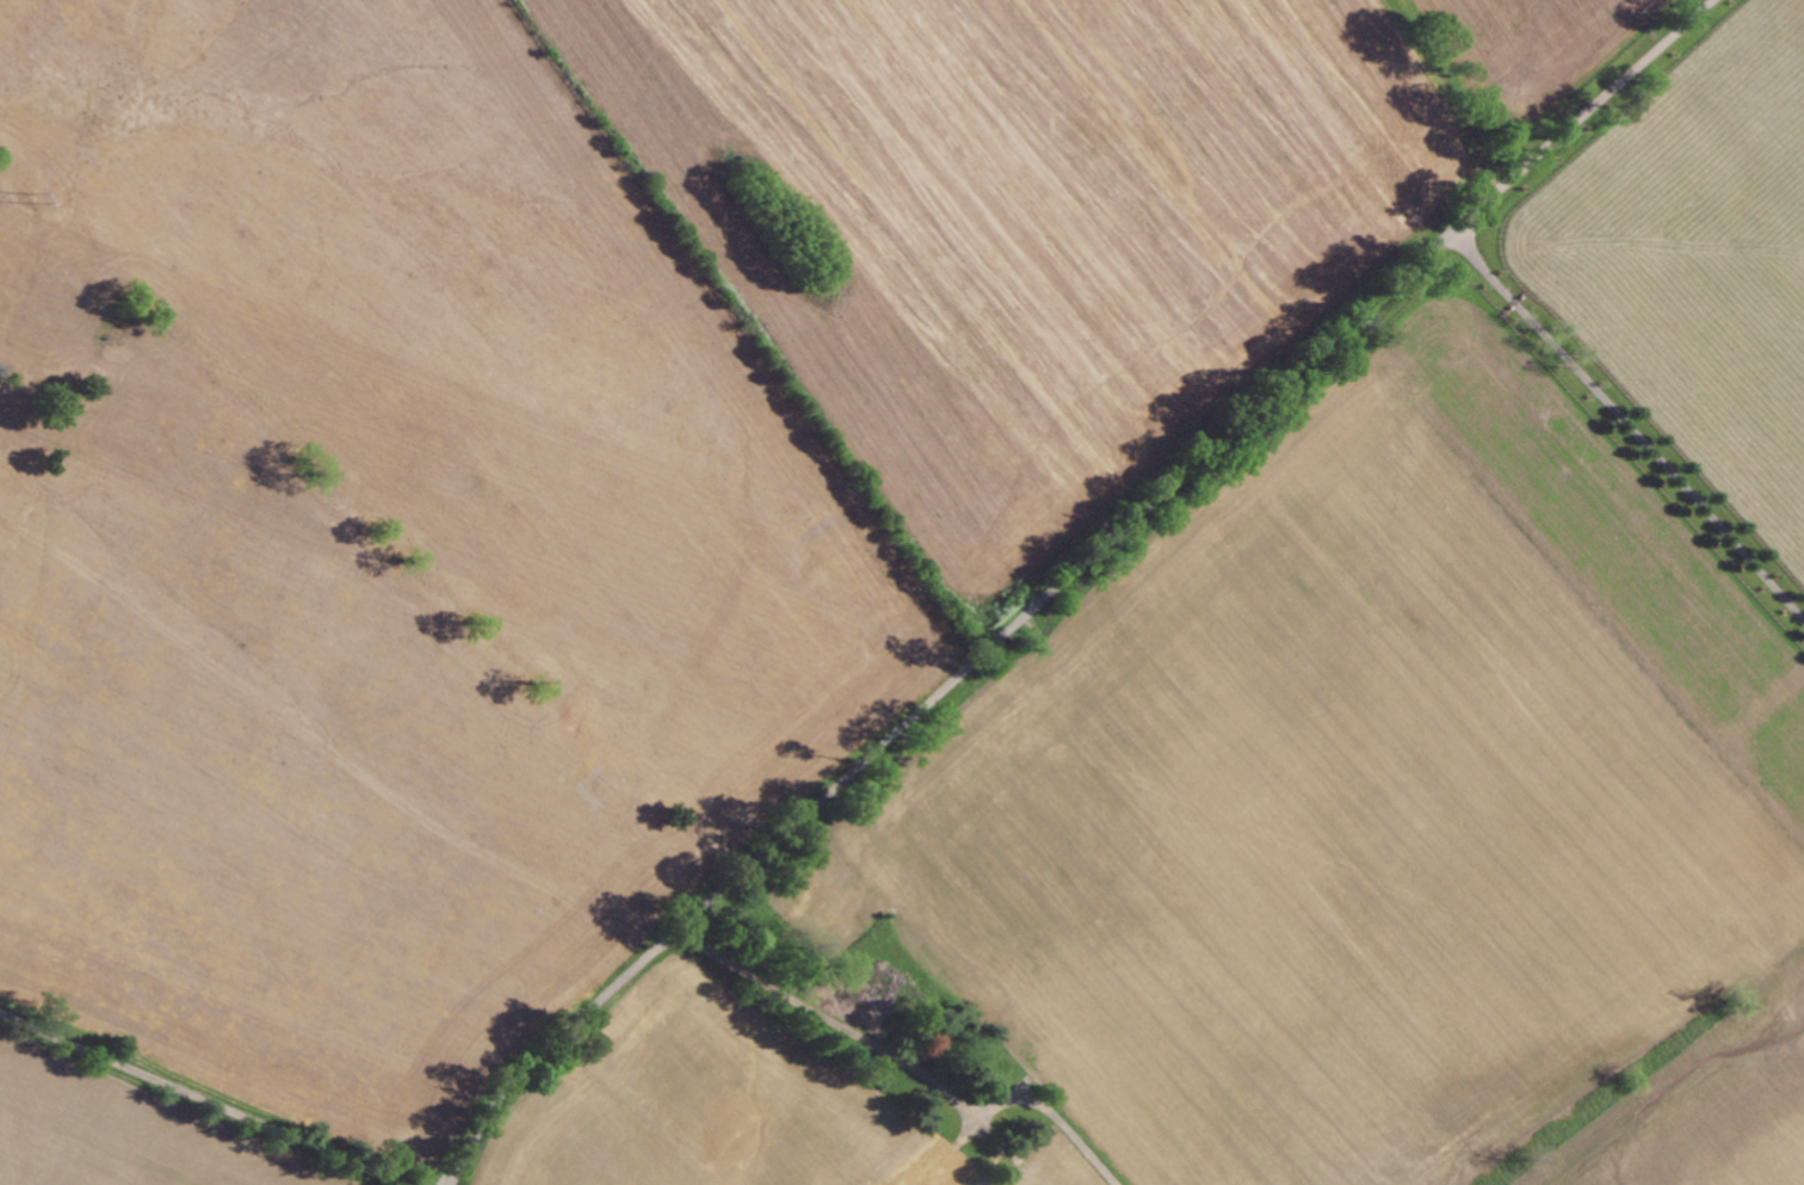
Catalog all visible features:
power tower: (32, 203)
road: (1347, 326)
road: (1630, 424)
road: (700, 907)
road: (907, 1068)
road: (205, 1097)

